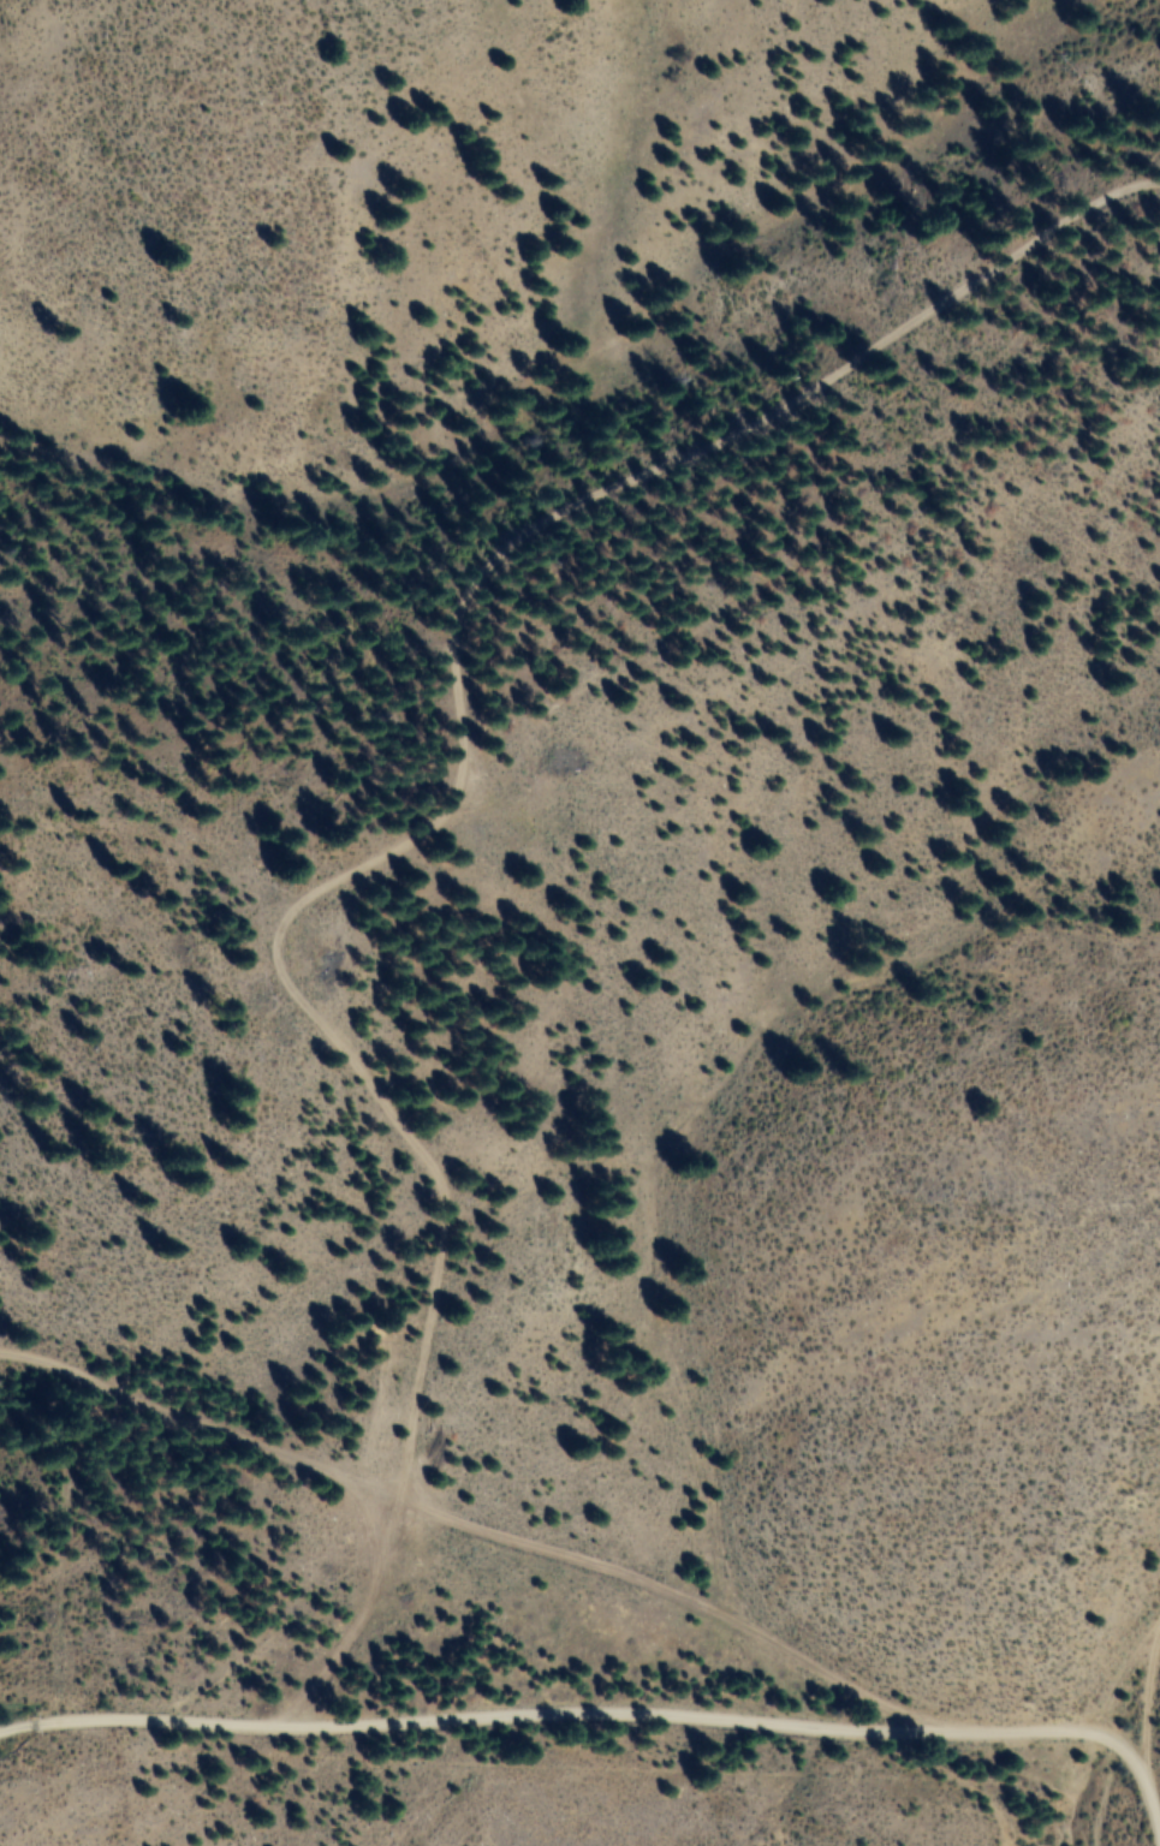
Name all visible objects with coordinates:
road: (573, 1565)
road: (1155, 1744)

